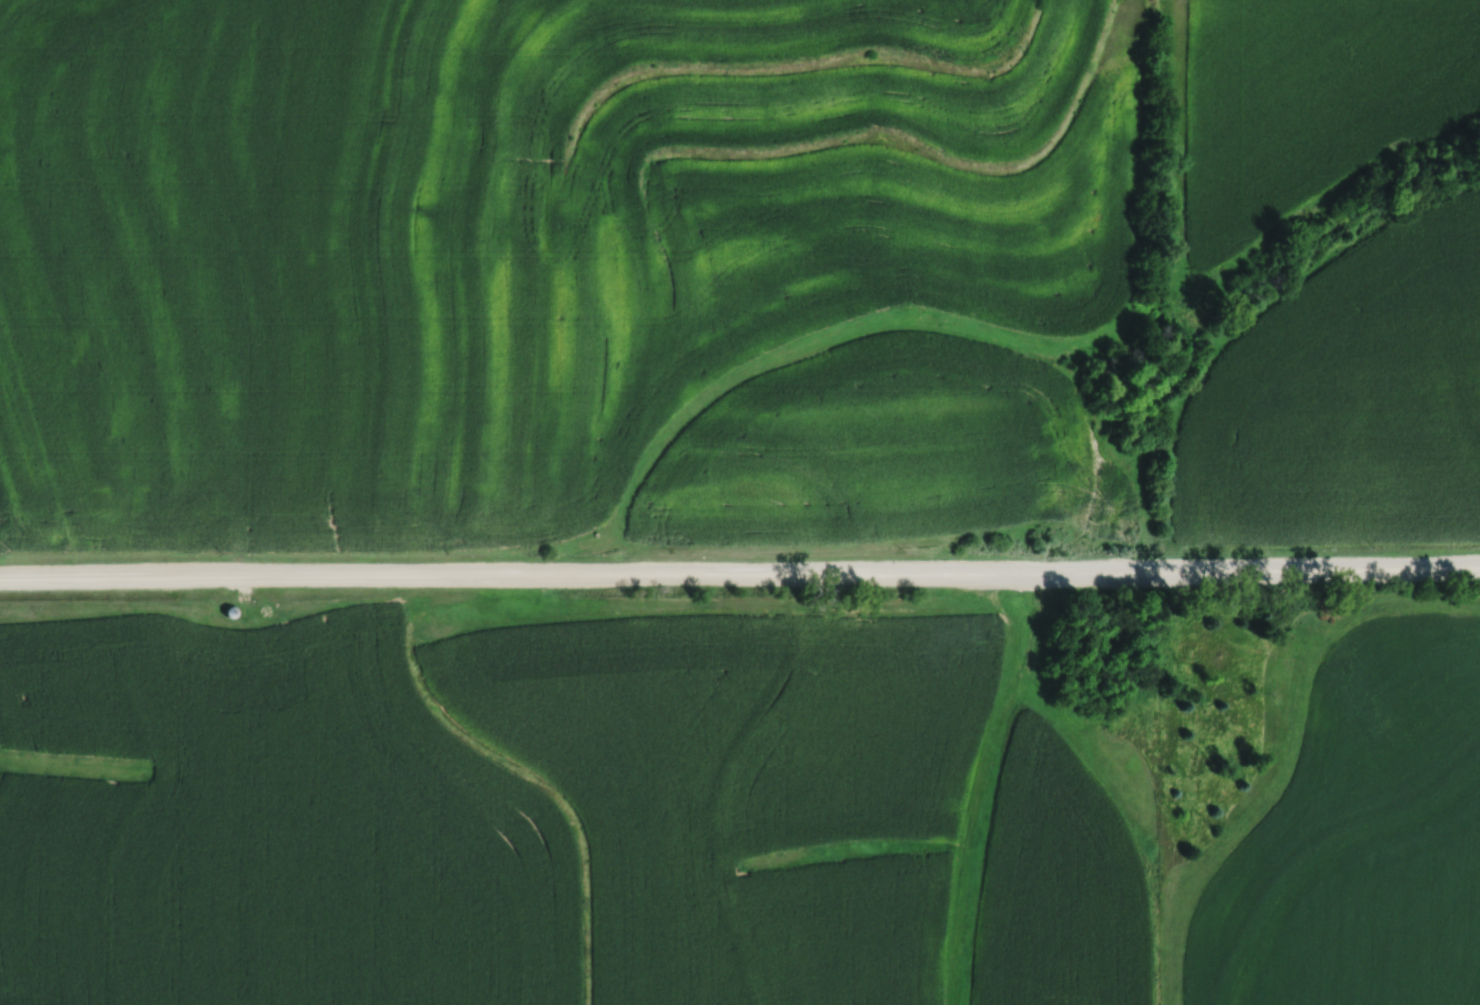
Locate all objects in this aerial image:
road: (739, 572)

